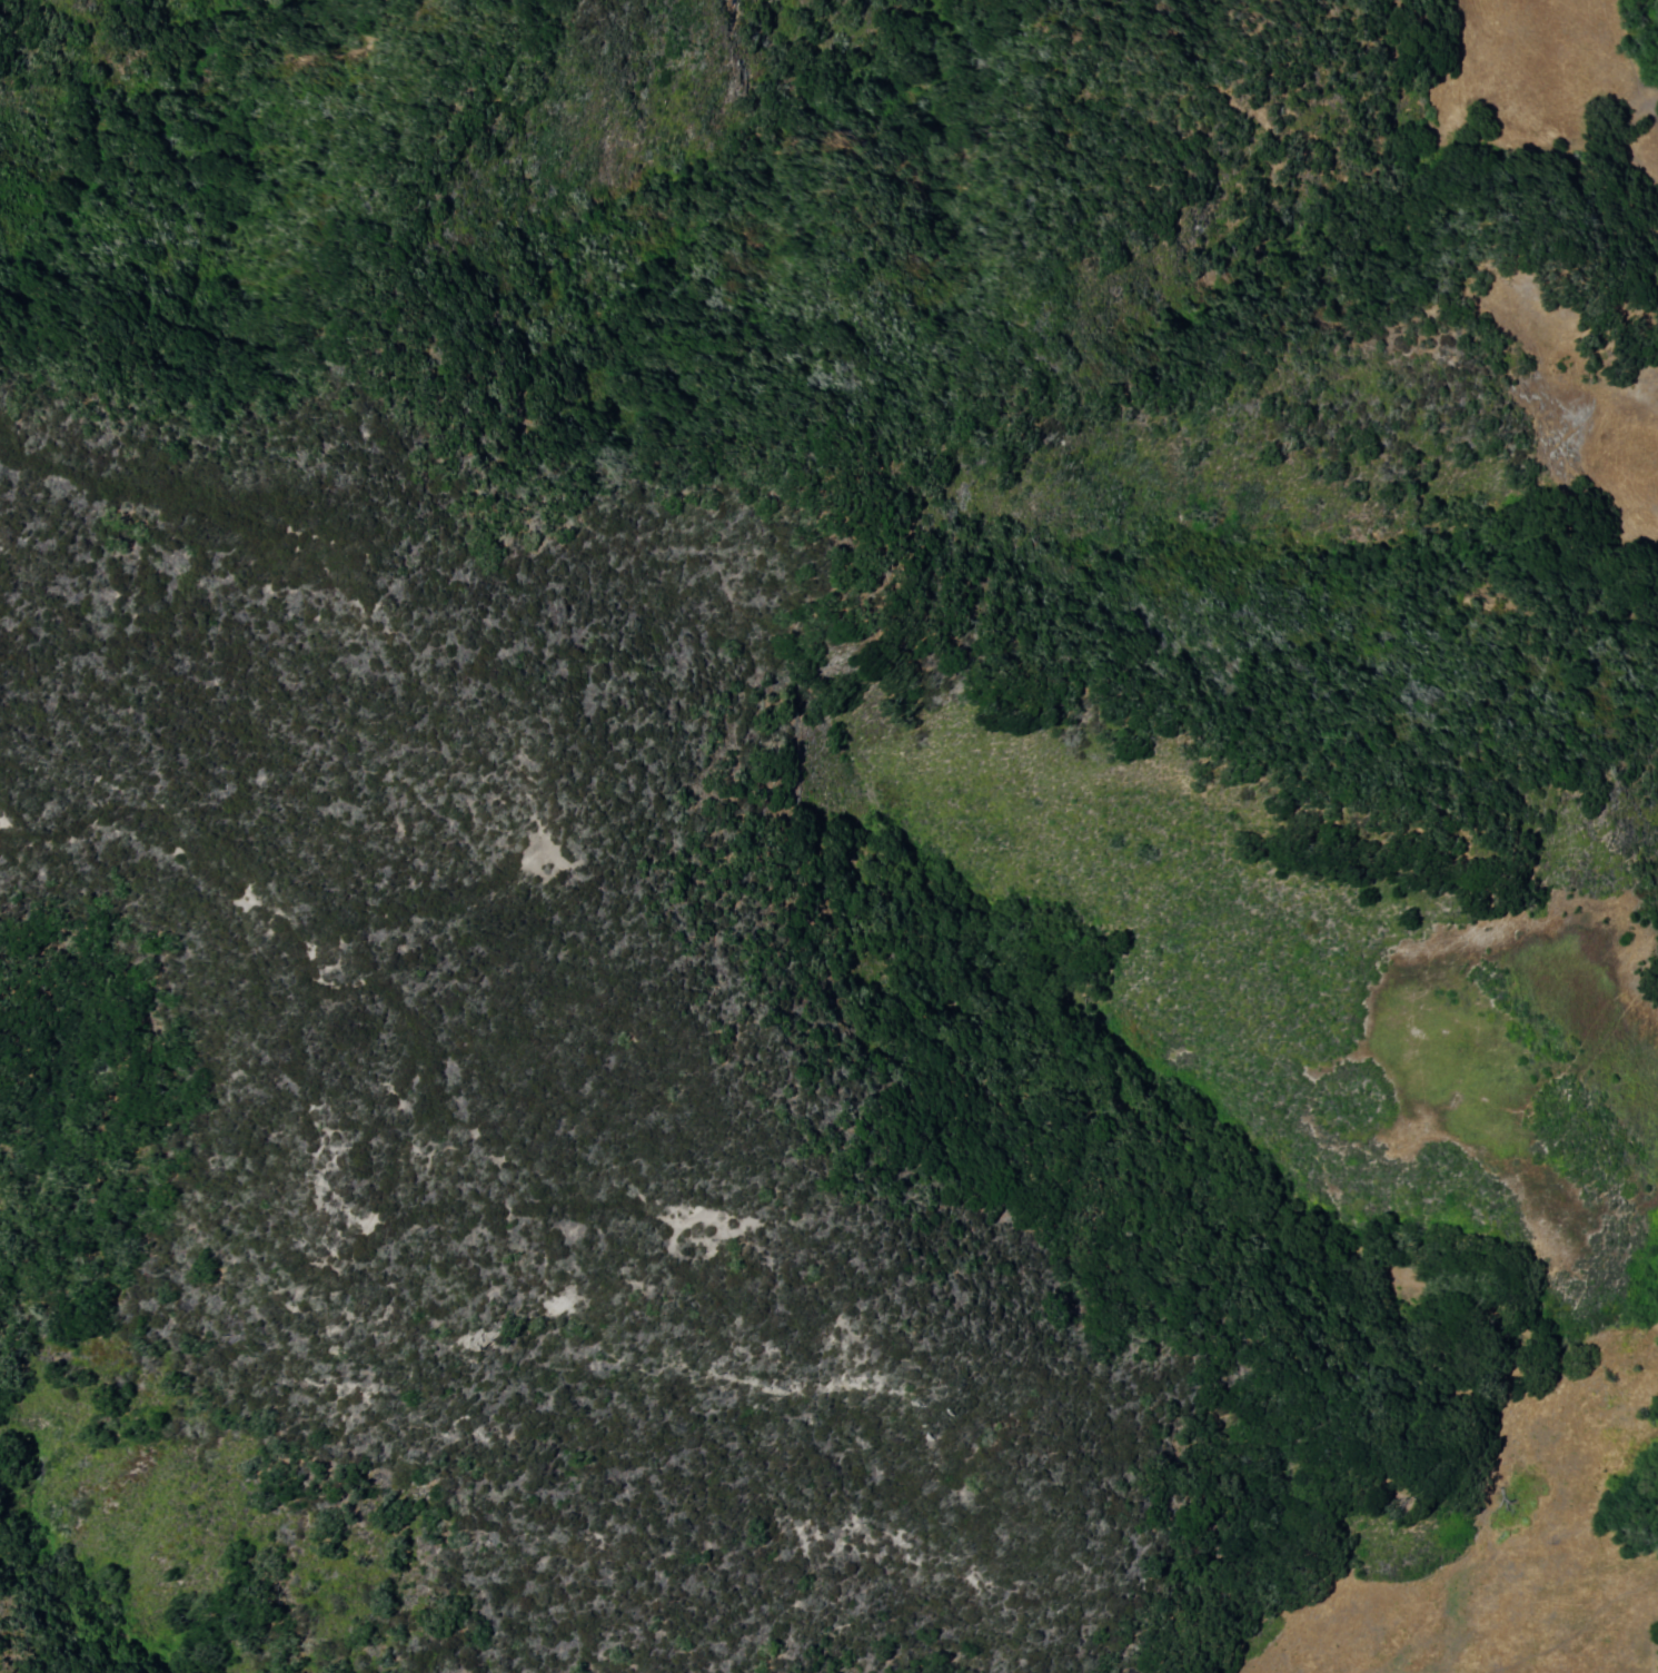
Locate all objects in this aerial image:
road: (1641, 1597)

